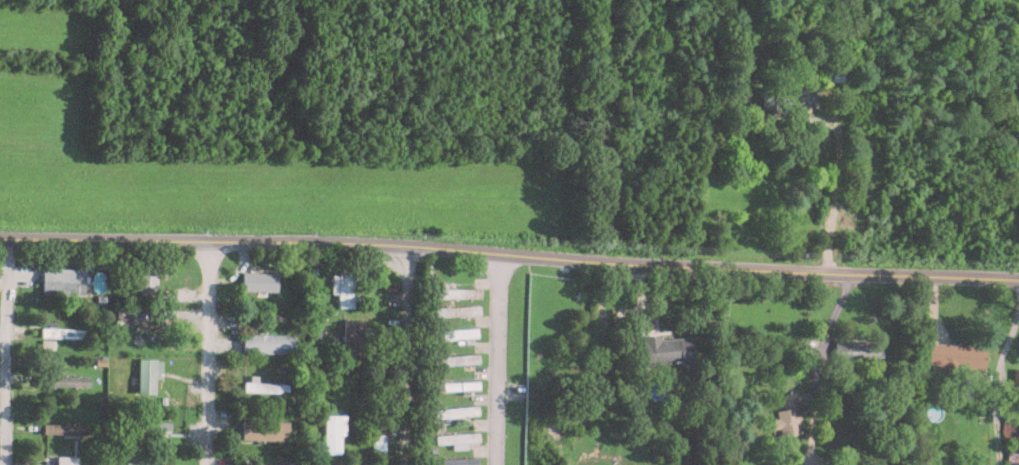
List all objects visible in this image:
building: (805, 20)
building: (841, 66)
building: (791, 97)
road: (835, 197)
road: (509, 251)
building: (148, 276)
building: (64, 279)
building: (345, 287)
building: (458, 292)
building: (458, 310)
building: (151, 326)
building: (460, 331)
building: (63, 332)
building: (354, 337)
building: (268, 343)
building: (668, 349)
building: (857, 350)
road: (6, 351)
road: (206, 352)
road: (405, 354)
building: (954, 354)
building: (459, 358)
road: (499, 358)
road: (818, 362)
building: (148, 375)
road: (996, 378)
building: (64, 380)
building: (457, 385)
building: (265, 386)
building: (456, 410)
building: (788, 414)
building: (150, 424)
building: (265, 428)
building: (334, 433)
building: (456, 438)
building: (1012, 438)
building: (377, 441)
building: (455, 461)

